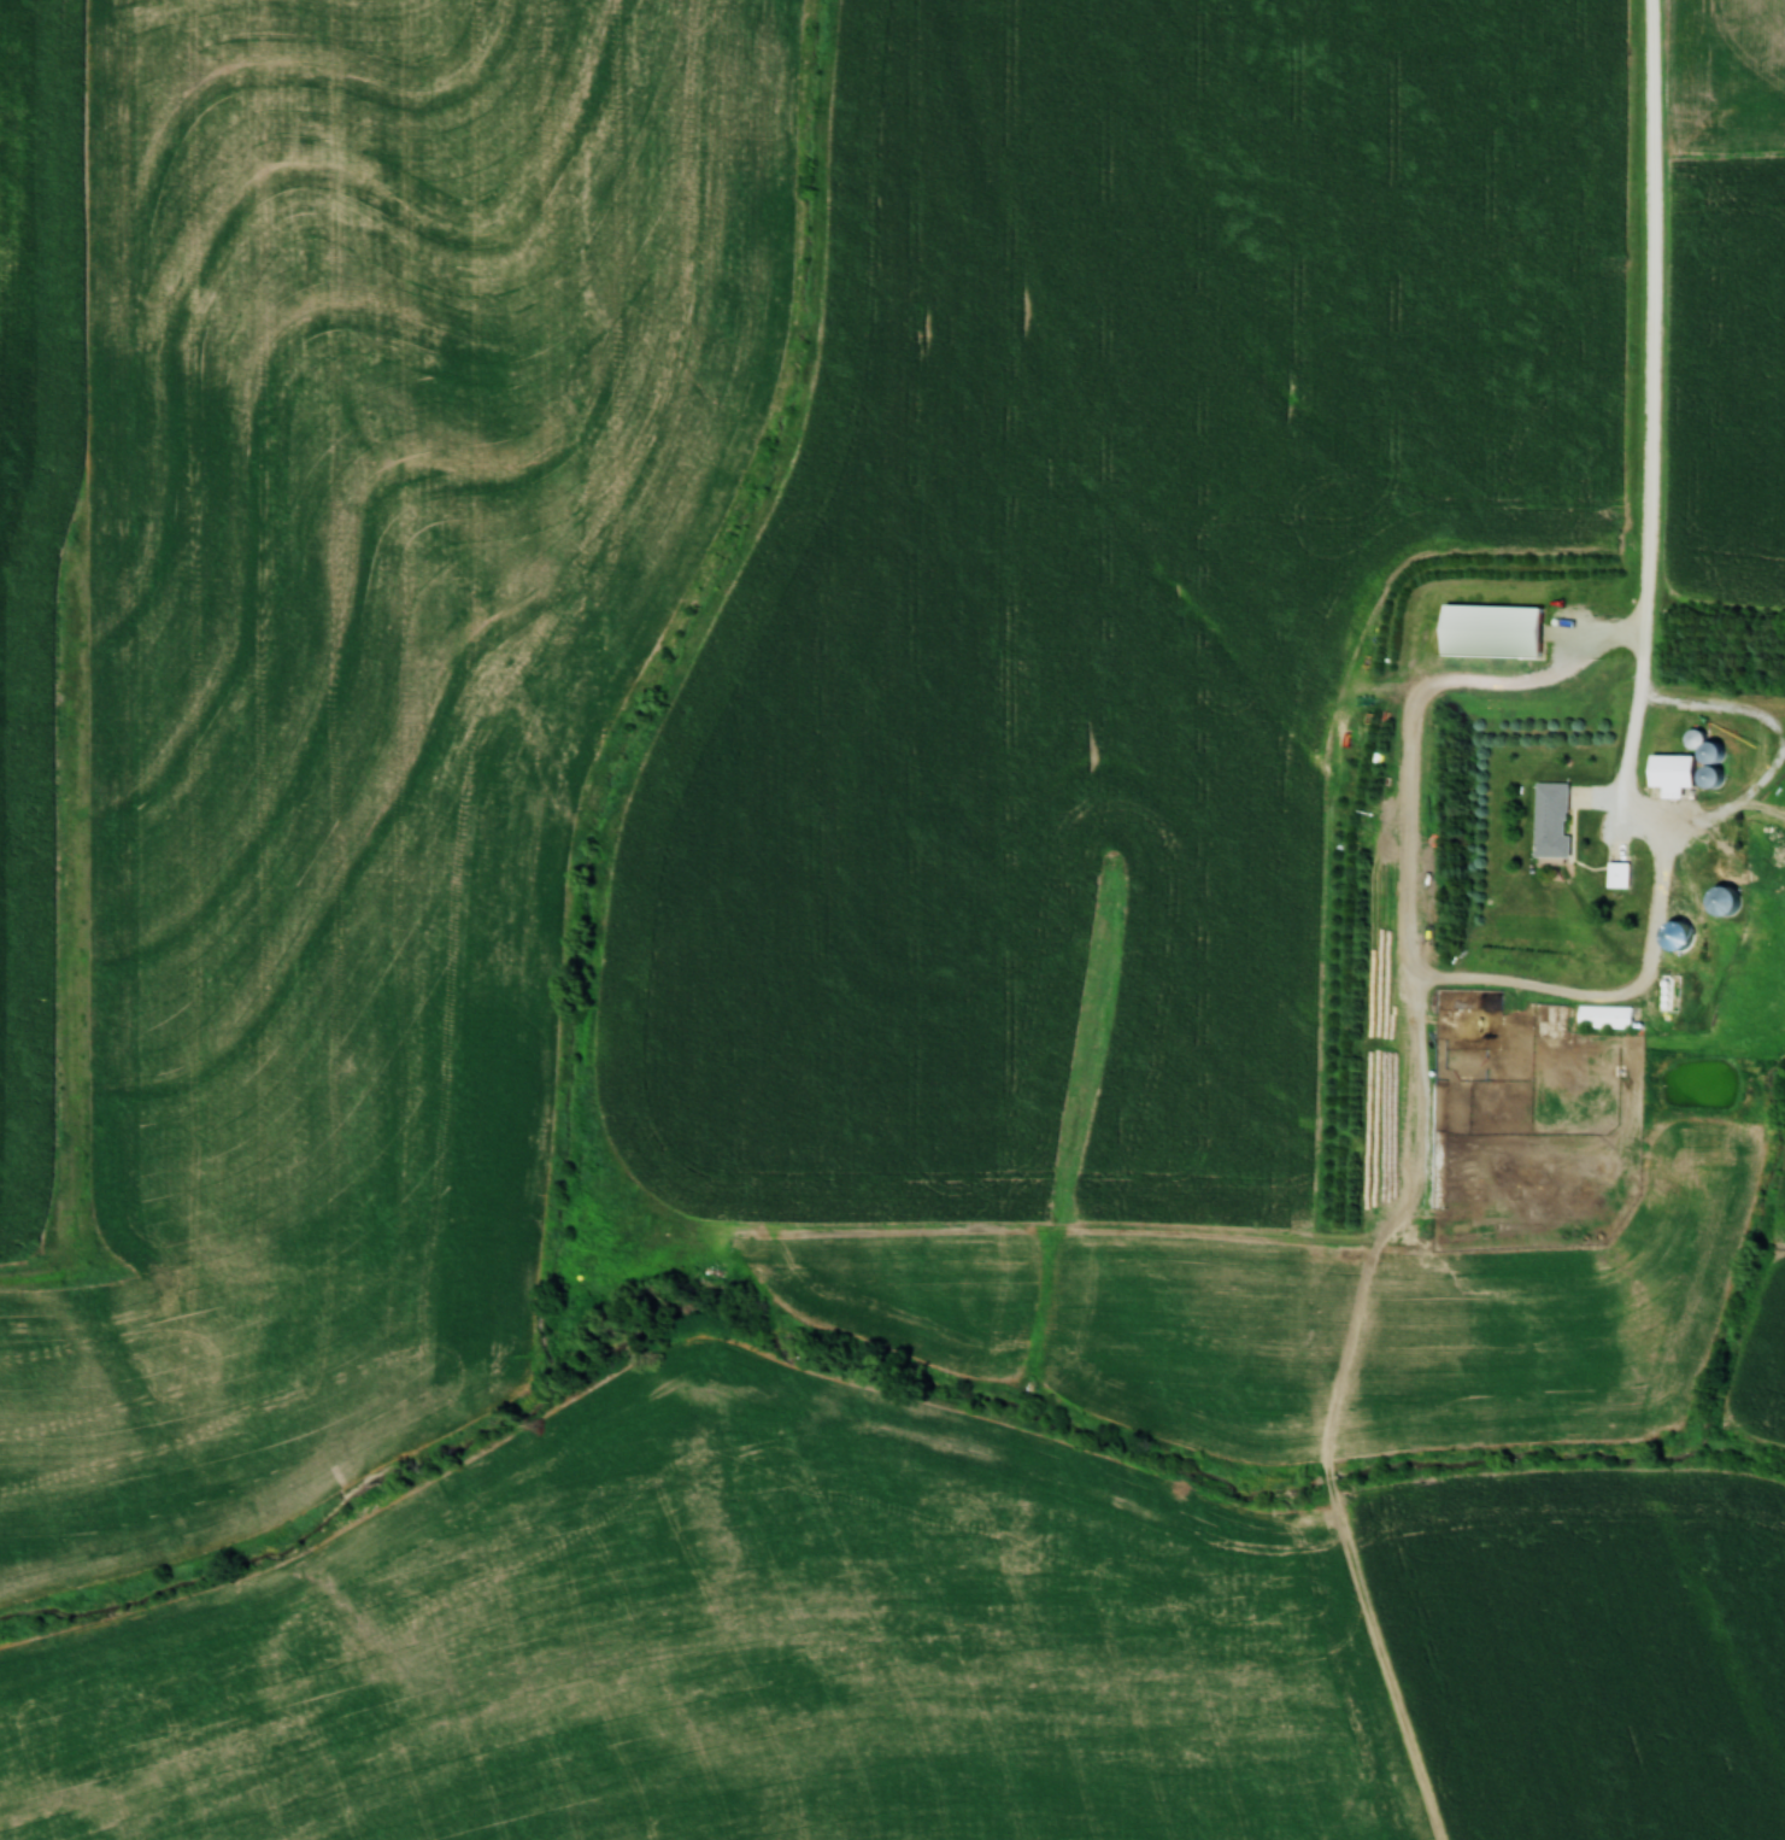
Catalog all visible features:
road: (1649, 623)
building: (1502, 629)
building: (1726, 751)
building: (1684, 769)
building: (1558, 819)
building: (1625, 872)
building: (1737, 898)
building: (1677, 991)
building: (1610, 1015)

